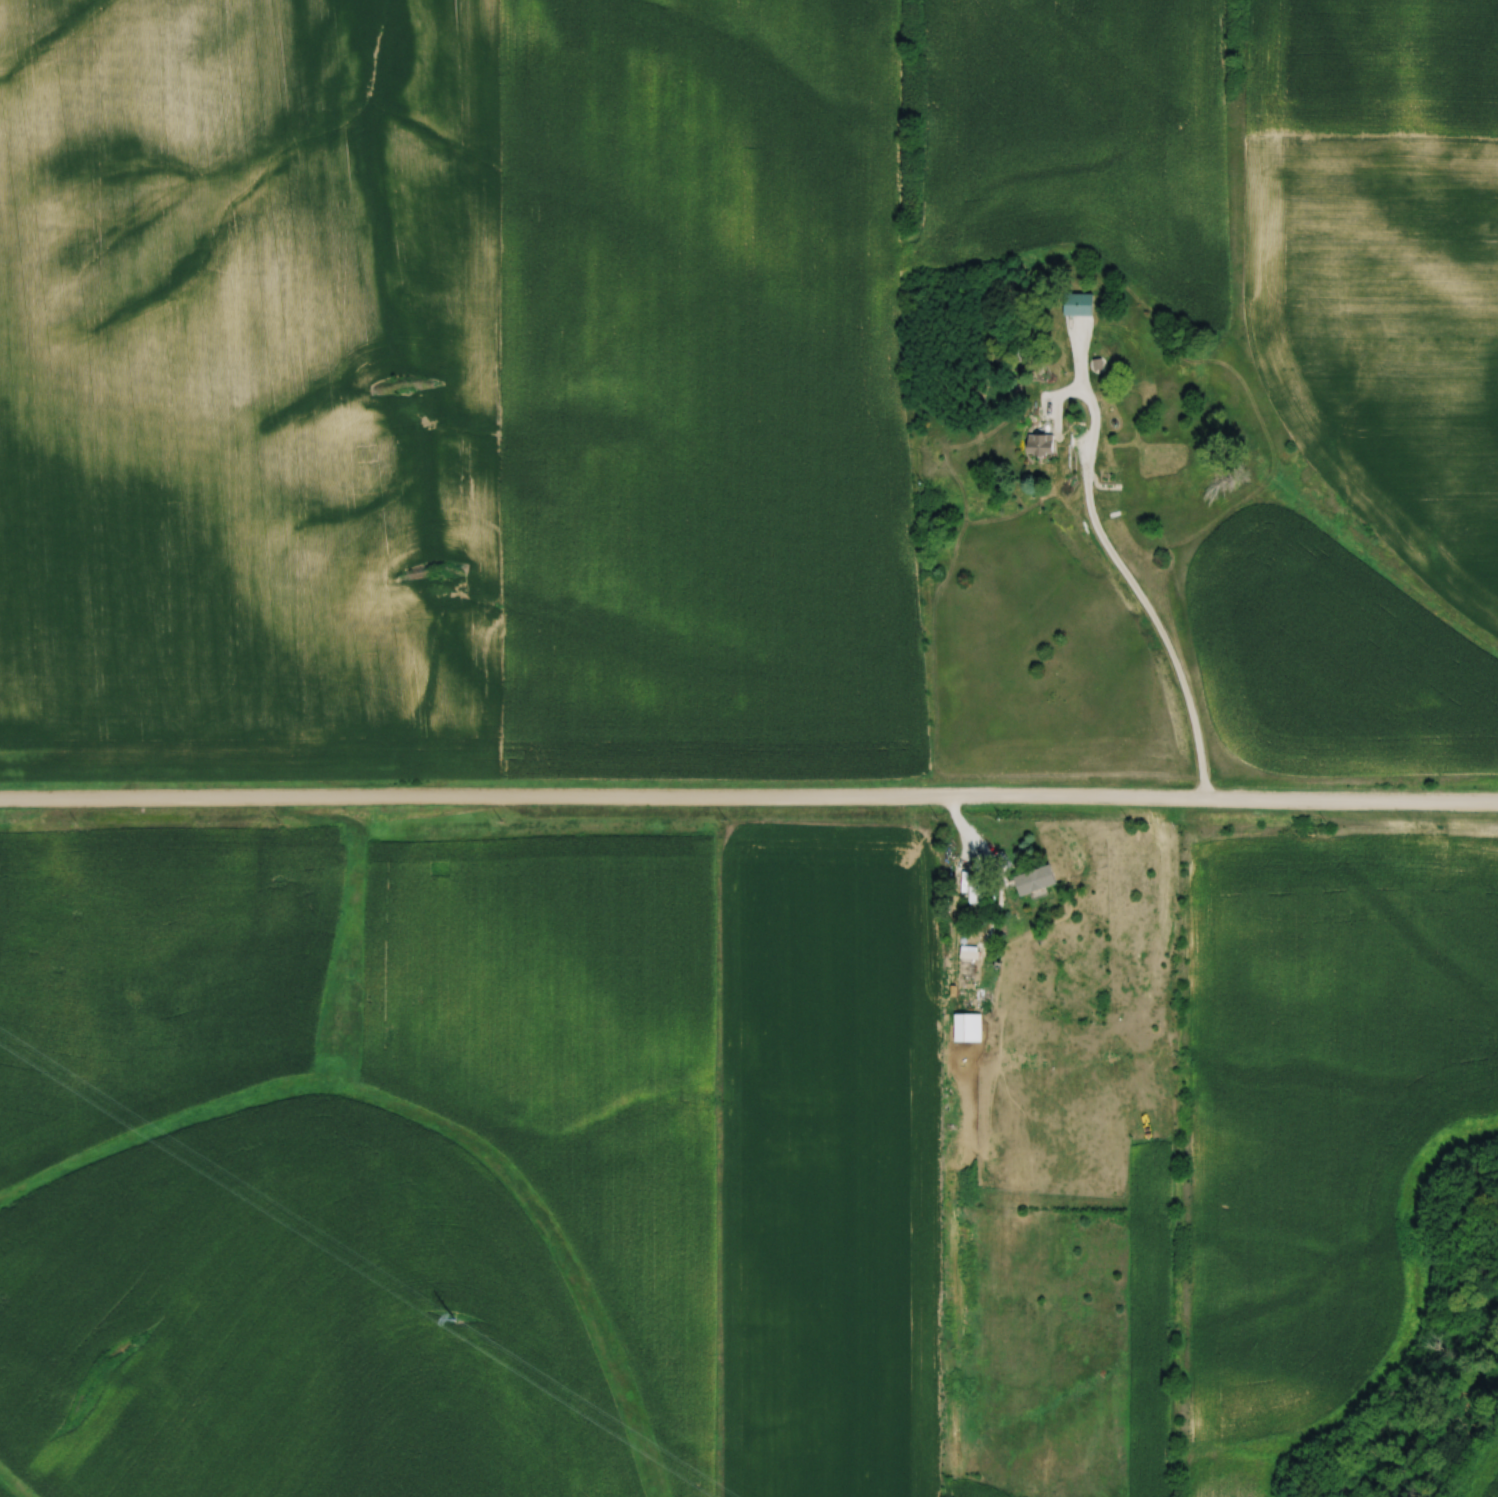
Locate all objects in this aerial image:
building: (1078, 305)
building: (1040, 445)
building: (1109, 481)
road: (1125, 576)
road: (749, 799)
building: (1033, 878)
road: (1001, 889)
building: (978, 892)
building: (152, 1021)
building: (967, 1027)
building: (238, 1031)
power tower: (458, 1319)

